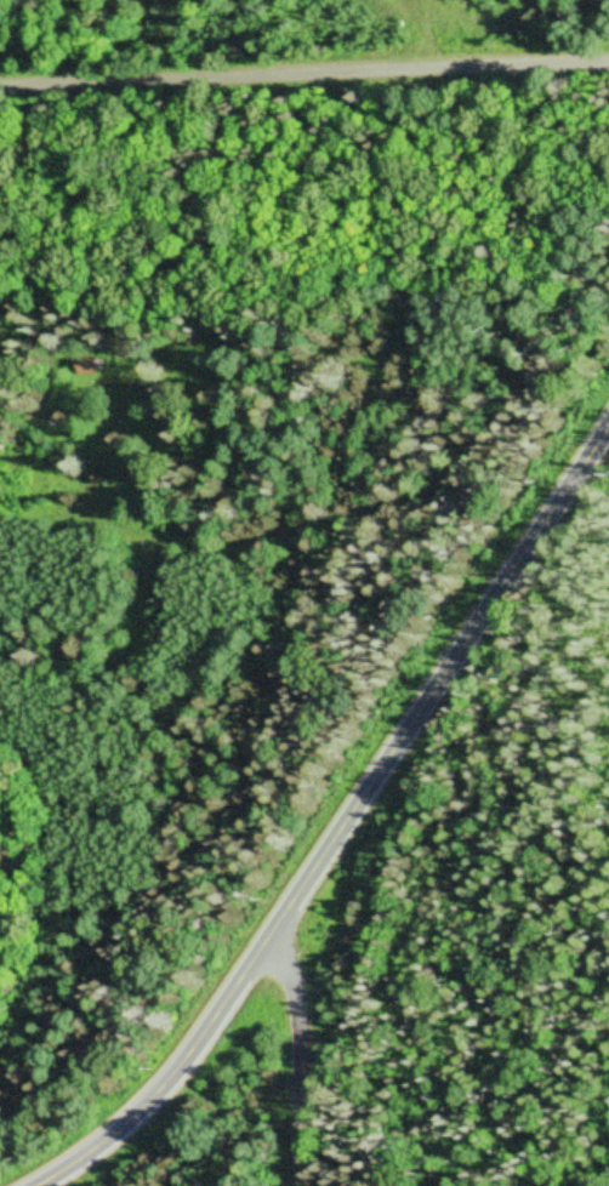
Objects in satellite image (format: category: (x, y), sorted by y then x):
road: (304, 75)
road: (346, 821)
road: (309, 1062)

